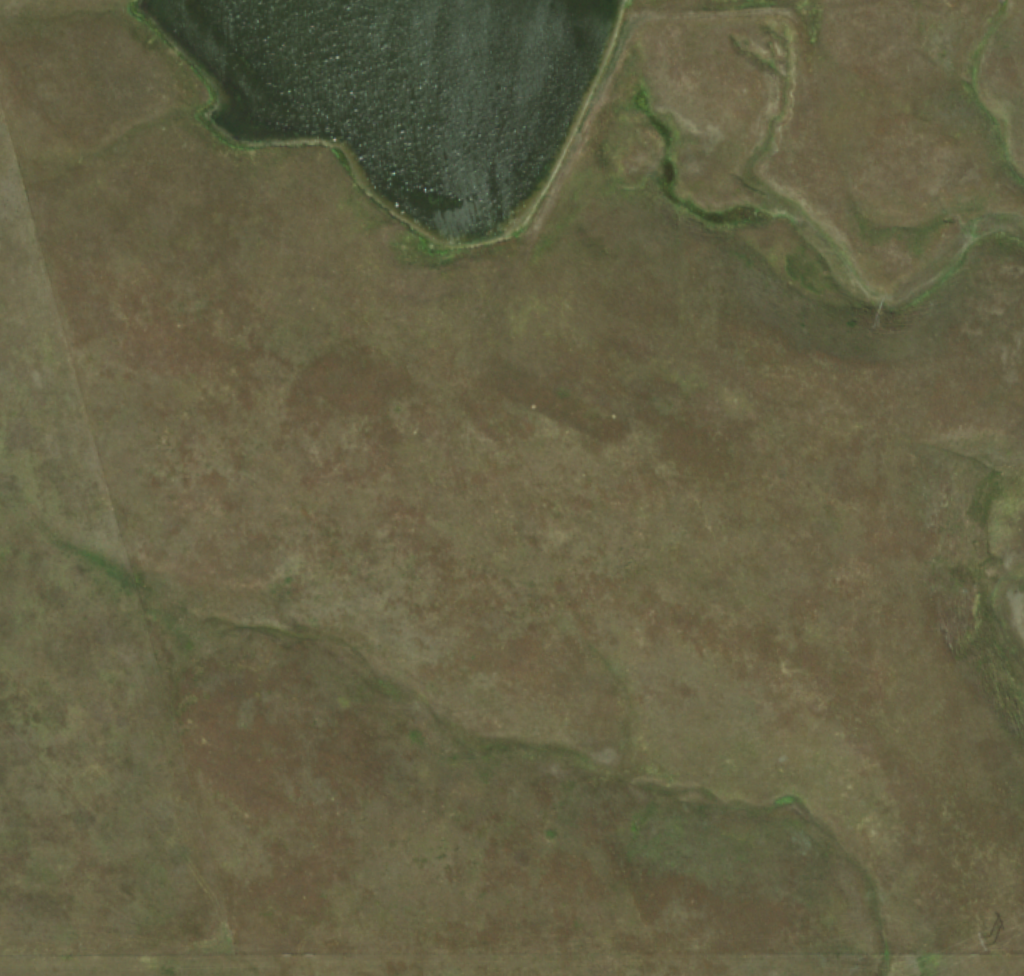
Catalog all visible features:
power tower: (984, 940)

